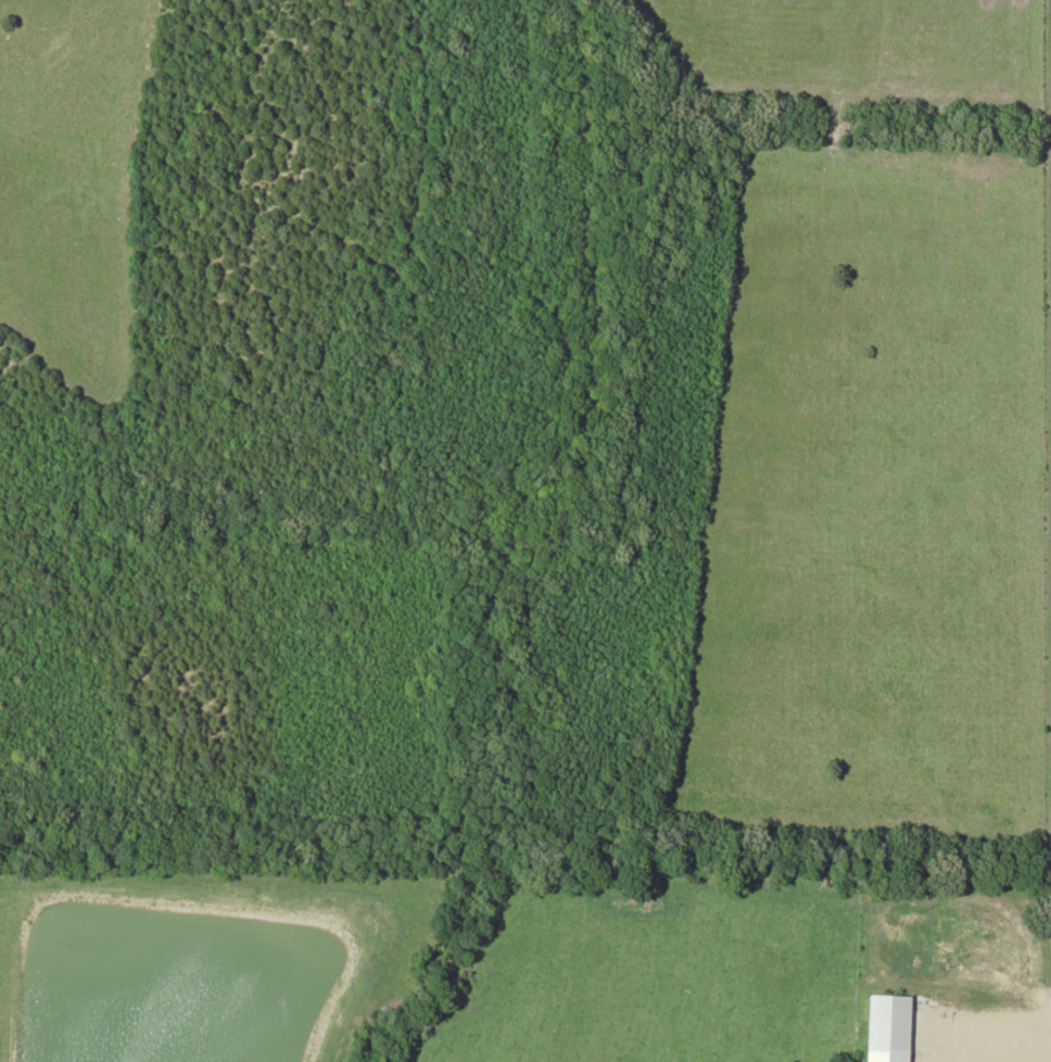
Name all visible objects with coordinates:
building: (891, 1054)

